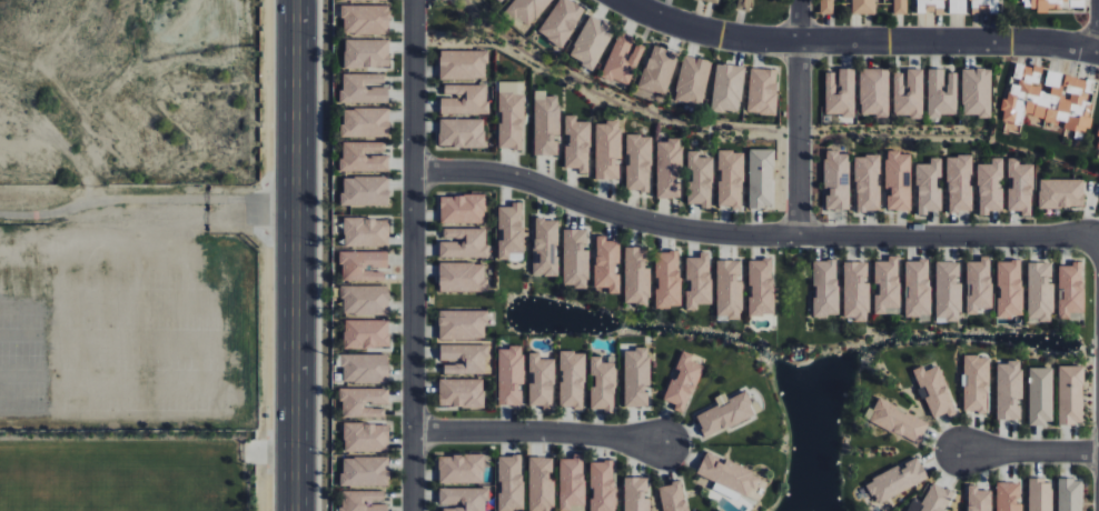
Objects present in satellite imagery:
building: (499, 1)
building: (713, 1)
building: (744, 4)
building: (1051, 4)
building: (957, 6)
building: (826, 7)
building: (863, 7)
building: (900, 7)
building: (525, 10)
building: (365, 19)
building: (561, 21)
road: (858, 41)
building: (591, 42)
road: (1098, 46)
building: (366, 52)
building: (622, 59)
building: (462, 63)
building: (659, 69)
building: (692, 80)
building: (363, 88)
building: (727, 88)
building: (762, 91)
building: (874, 91)
building: (976, 91)
building: (840, 92)
building: (941, 92)
building: (908, 93)
building: (464, 99)
building: (1048, 99)
building: (511, 114)
road: (799, 118)
building: (365, 122)
building: (545, 123)
building: (461, 132)
building: (576, 143)
building: (606, 149)
building: (363, 157)
building: (638, 162)
building: (669, 168)
building: (731, 178)
building: (761, 178)
building: (700, 179)
building: (836, 179)
building: (898, 180)
building: (867, 182)
building: (959, 183)
building: (929, 186)
building: (990, 186)
building: (1020, 187)
building: (365, 190)
building: (1061, 192)
building: (462, 209)
road: (149, 214)
building: (366, 231)
building: (511, 232)
road: (752, 234)
building: (464, 242)
building: (545, 247)
road: (413, 254)
road: (298, 255)
building: (575, 258)
building: (606, 263)
building: (363, 265)
building: (462, 277)
building: (636, 277)
building: (667, 279)
building: (697, 280)
building: (887, 285)
building: (979, 285)
building: (761, 287)
building: (825, 288)
building: (918, 288)
building: (729, 289)
building: (1009, 289)
building: (855, 291)
building: (948, 291)
building: (1040, 291)
building: (1071, 291)
building: (365, 299)
building: (463, 324)
building: (366, 333)
building: (463, 358)
building: (365, 368)
building: (511, 375)
building: (636, 377)
building: (572, 379)
building: (684, 380)
building: (541, 381)
building: (602, 382)
building: (976, 383)
building: (1009, 390)
building: (935, 391)
building: (461, 393)
building: (1040, 394)
building: (1070, 394)
building: (363, 401)
building: (726, 412)
building: (897, 420)
road: (538, 432)
building: (366, 437)
road: (1029, 452)
building: (461, 468)
building: (365, 471)
building: (731, 475)
building: (897, 480)
building: (509, 482)
building: (572, 483)
building: (541, 484)
building: (602, 485)
building: (635, 493)
building: (1040, 494)
building: (1070, 494)
building: (673, 497)
building: (1008, 497)
building: (463, 499)
building: (979, 499)
building: (363, 500)
building: (932, 500)

